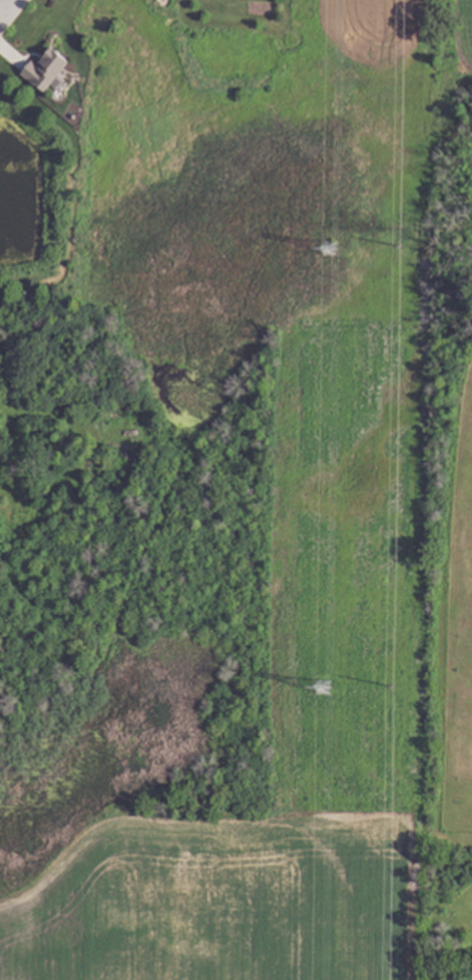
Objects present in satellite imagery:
road: (4, 12)
road: (11, 13)
crop: (455, 39)
building: (44, 70)
power tower: (330, 251)
power tower: (324, 687)
crop: (219, 901)

